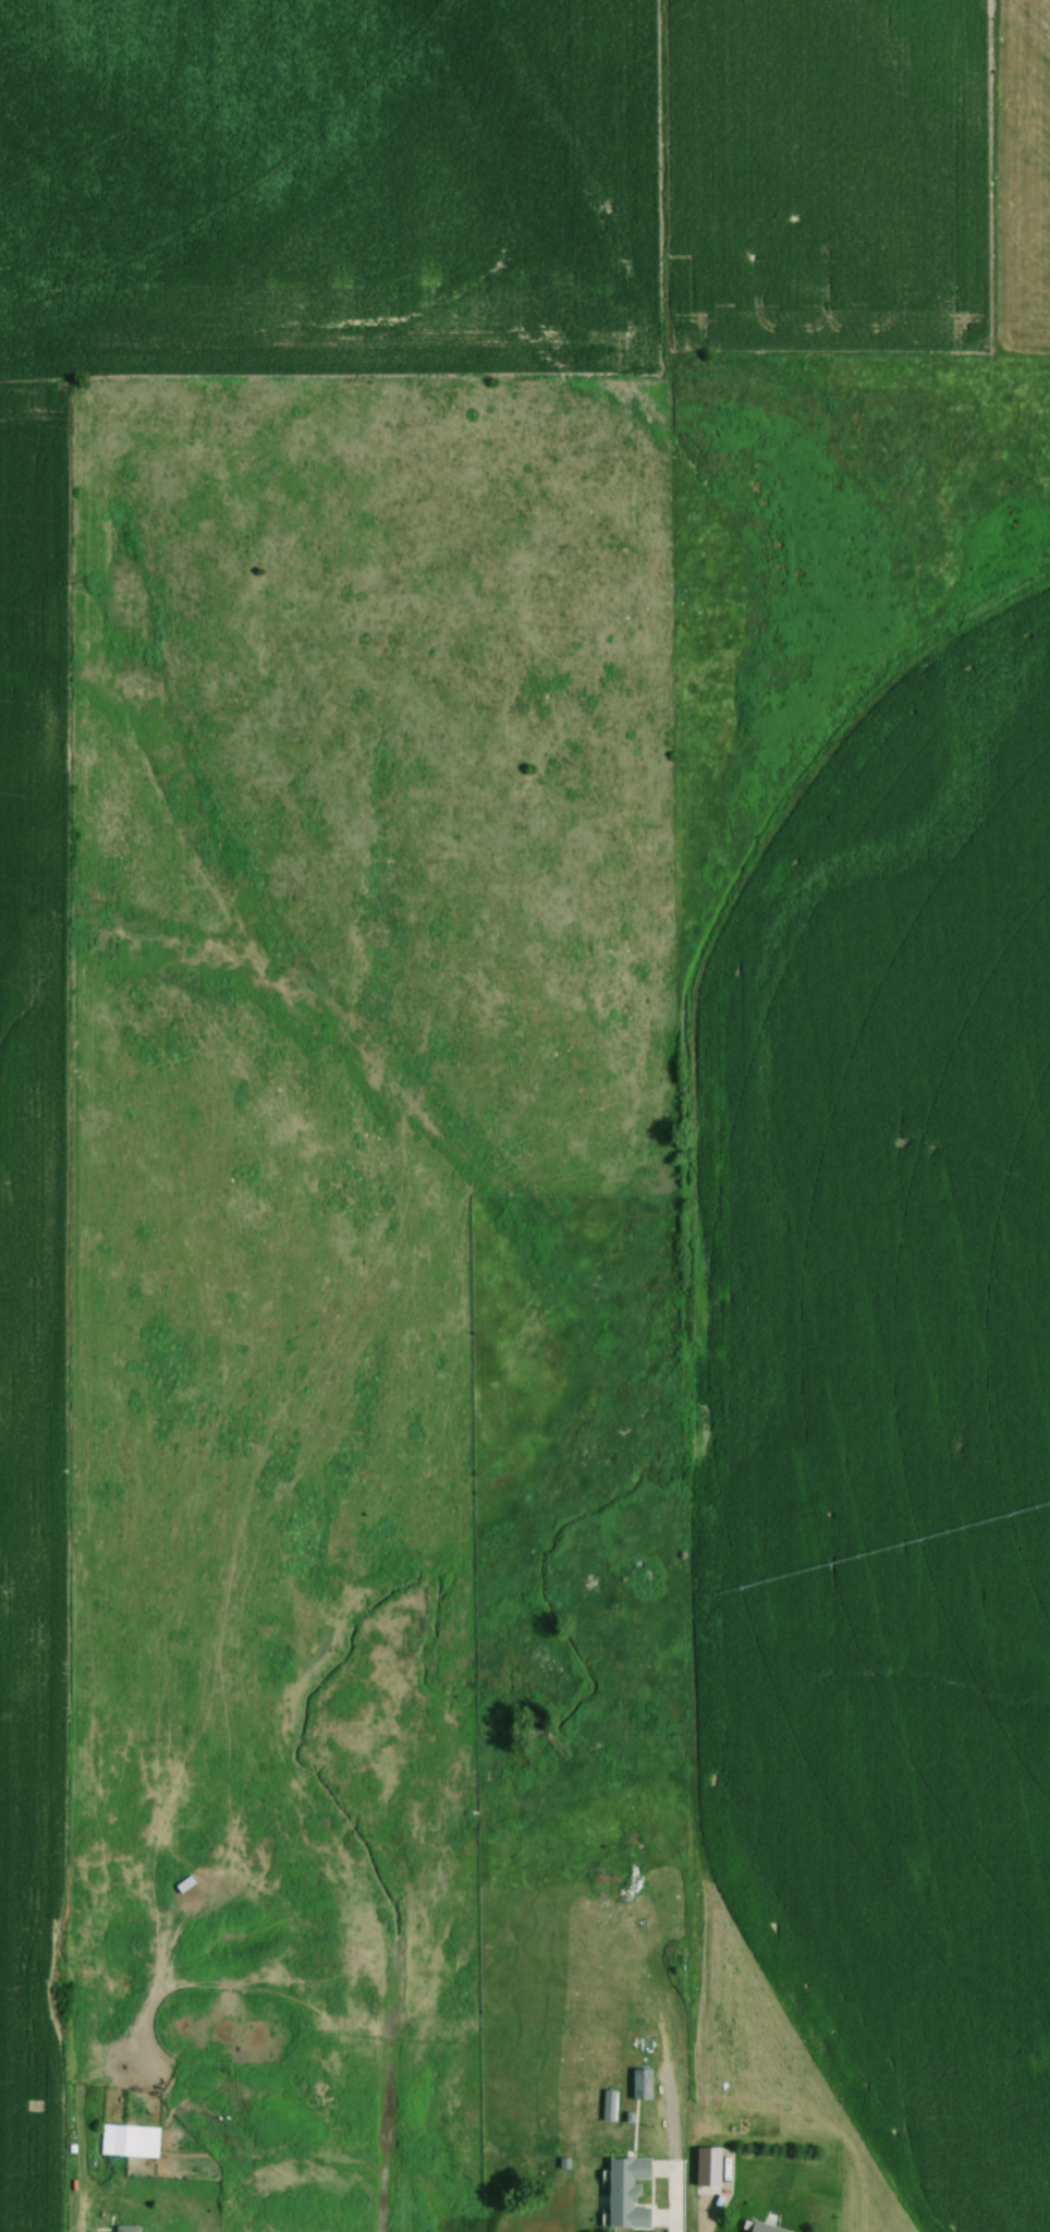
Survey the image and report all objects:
building: (186, 1902)
building: (640, 2083)
building: (608, 2104)
building: (127, 2139)
building: (706, 2167)
building: (626, 2193)
road: (669, 2204)
building: (126, 2228)
building: (764, 2228)

